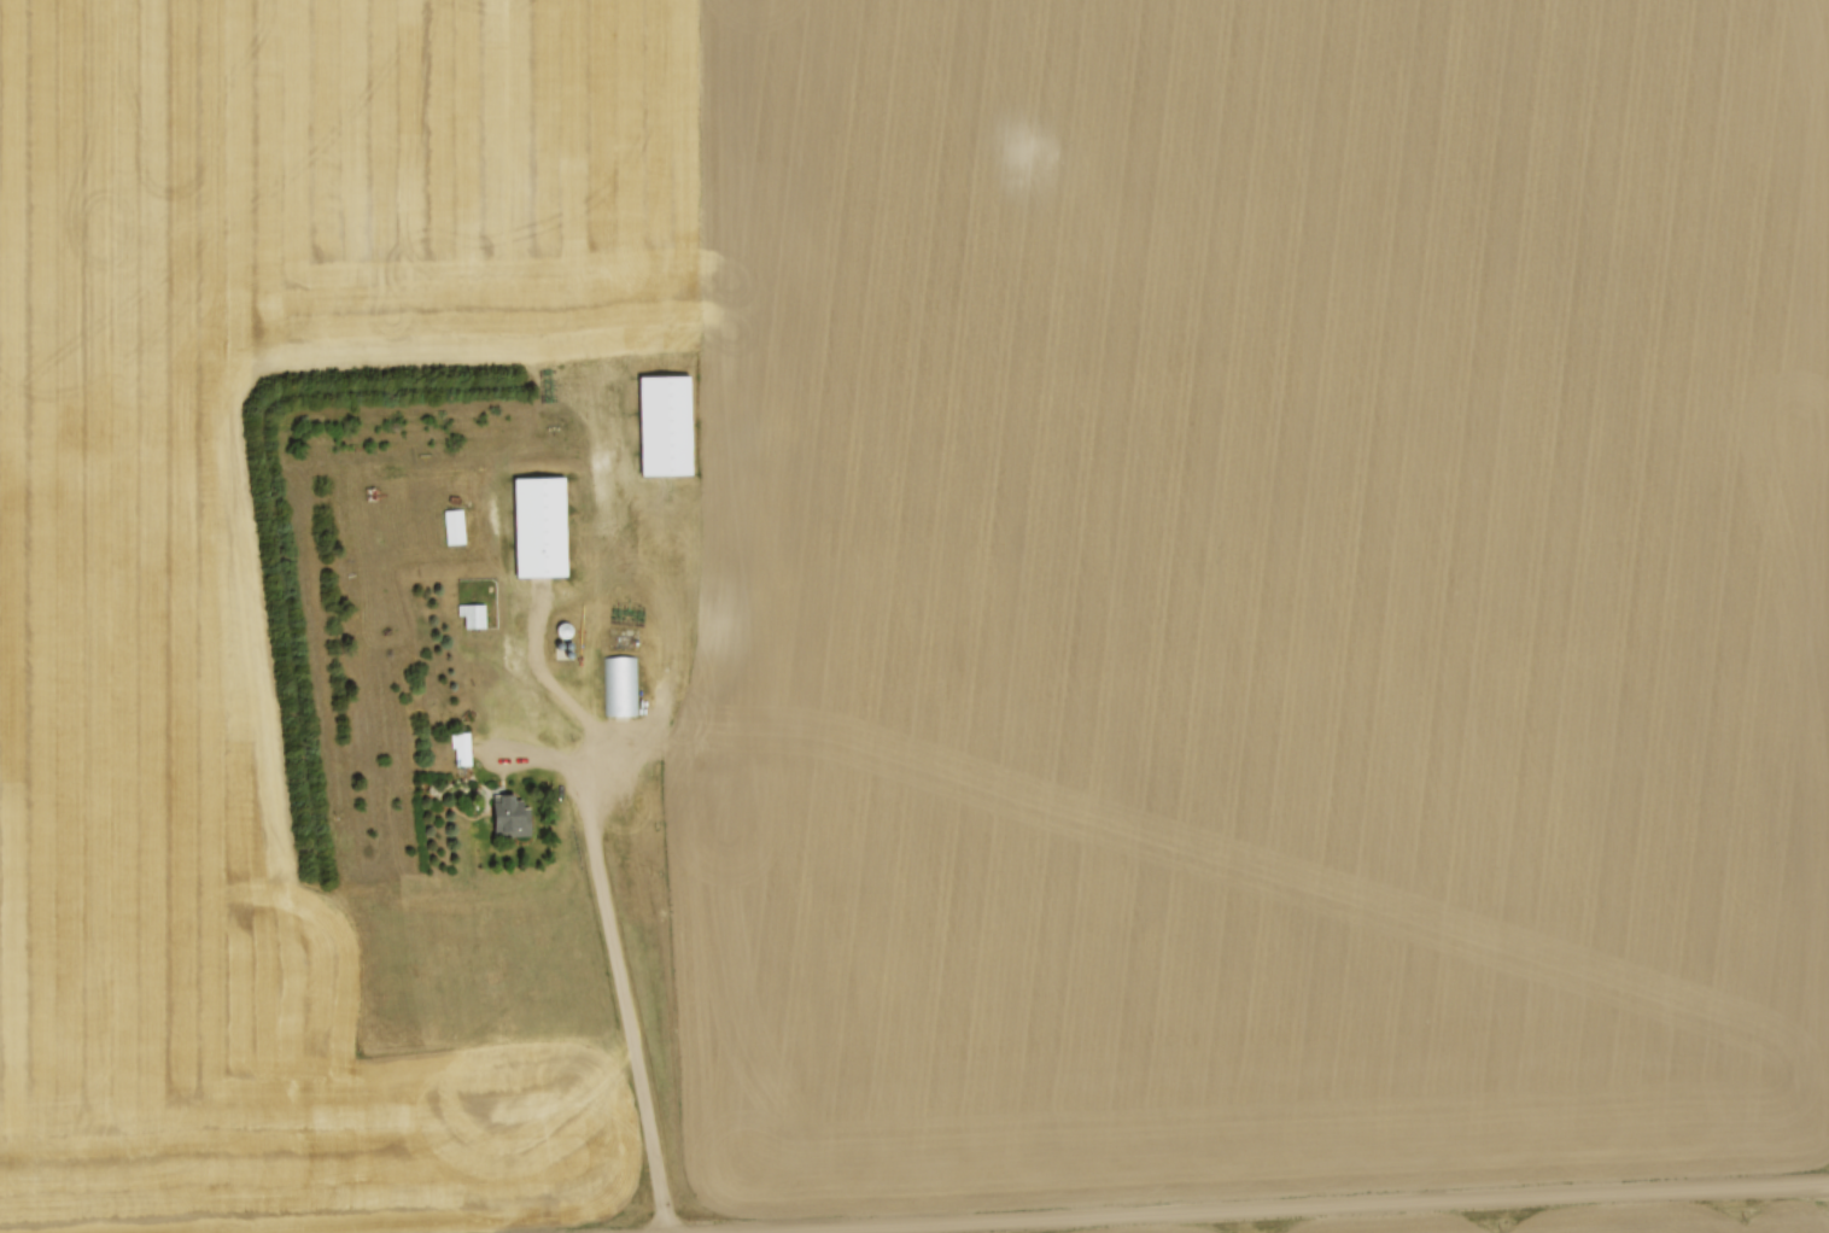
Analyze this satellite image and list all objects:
building: (456, 525)
building: (540, 525)
crop: (949, 594)
building: (477, 613)
silo: (567, 627)
building: (567, 631)
building: (619, 684)
building: (463, 746)
building: (513, 814)
park: (469, 828)
road: (608, 949)
road: (1308, 1208)
crop: (1593, 1222)

